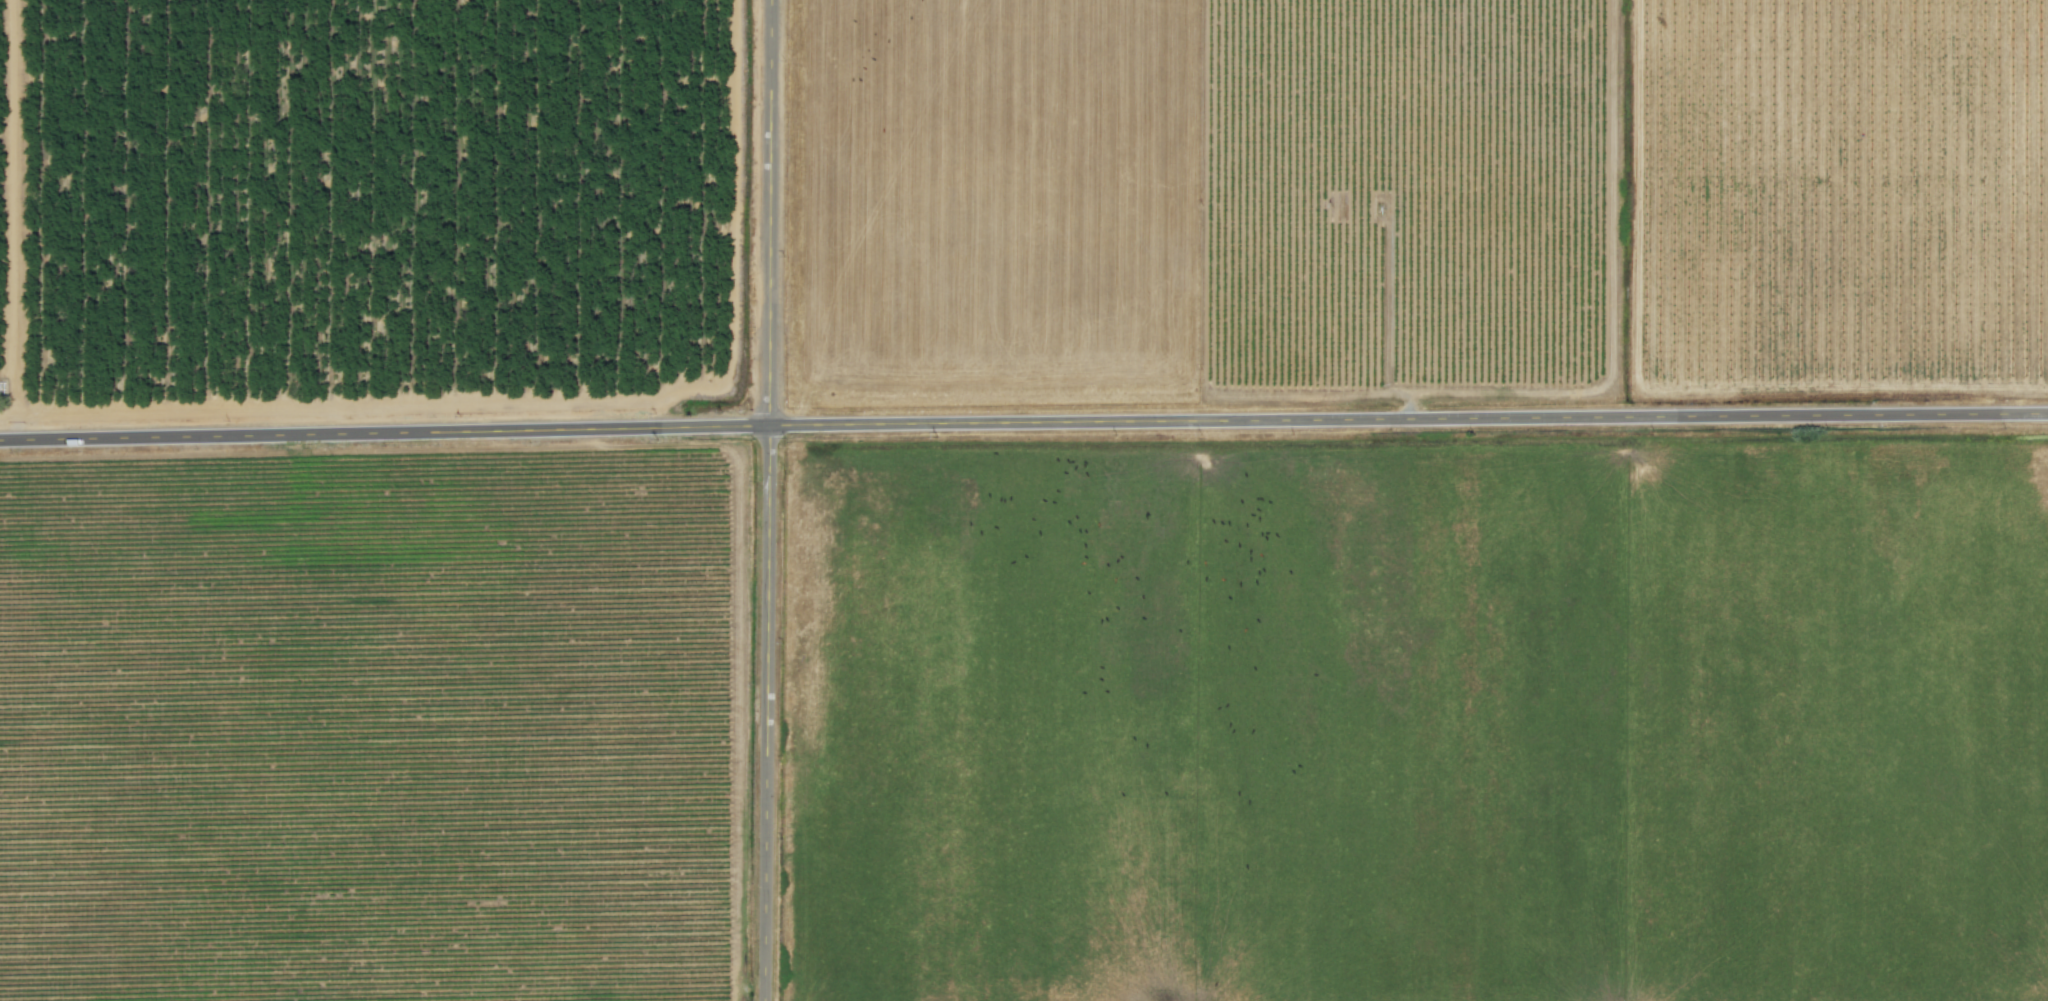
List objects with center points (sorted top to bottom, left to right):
road: (773, 212)
road: (1023, 422)
road: (769, 713)

